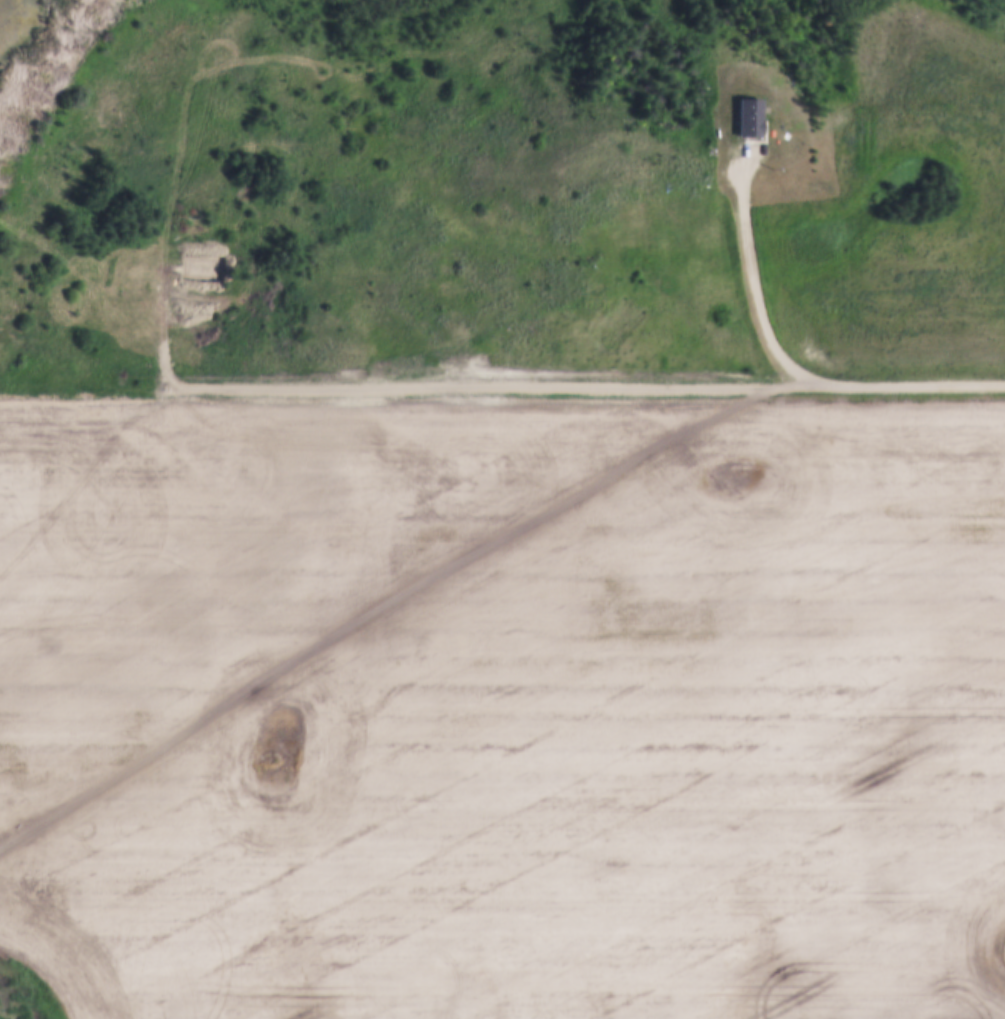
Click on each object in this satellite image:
building: (747, 114)
road: (790, 368)

